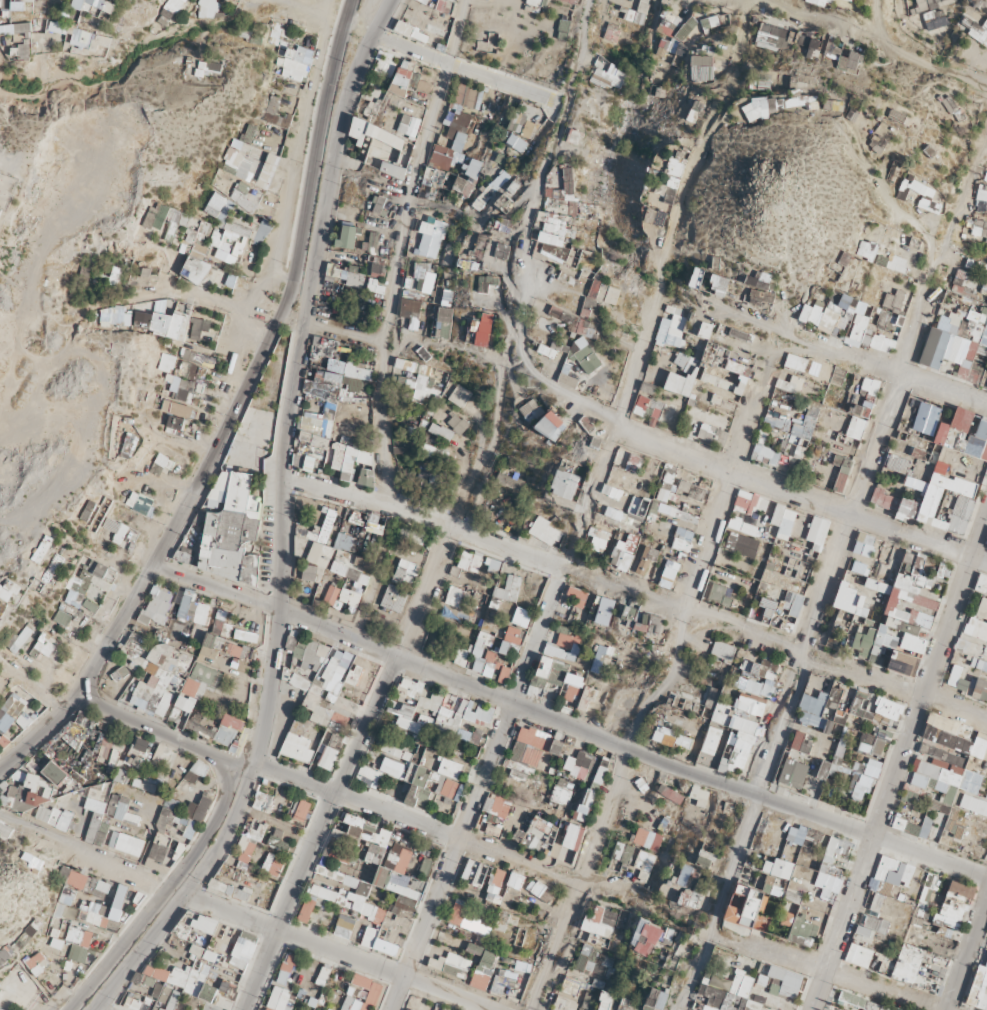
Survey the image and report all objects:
road: (384, 15)
road: (347, 24)

